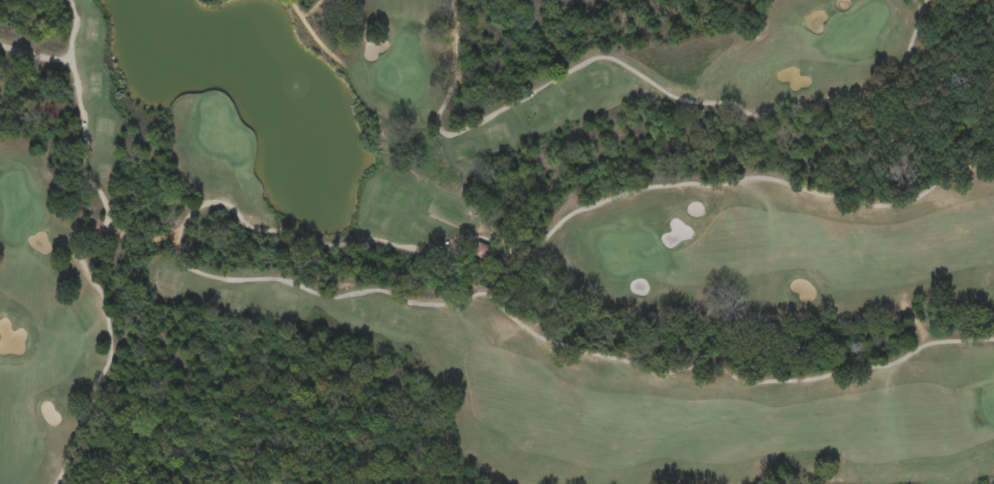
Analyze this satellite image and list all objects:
road: (72, 30)
park: (497, 242)
road: (328, 250)
building: (482, 252)

